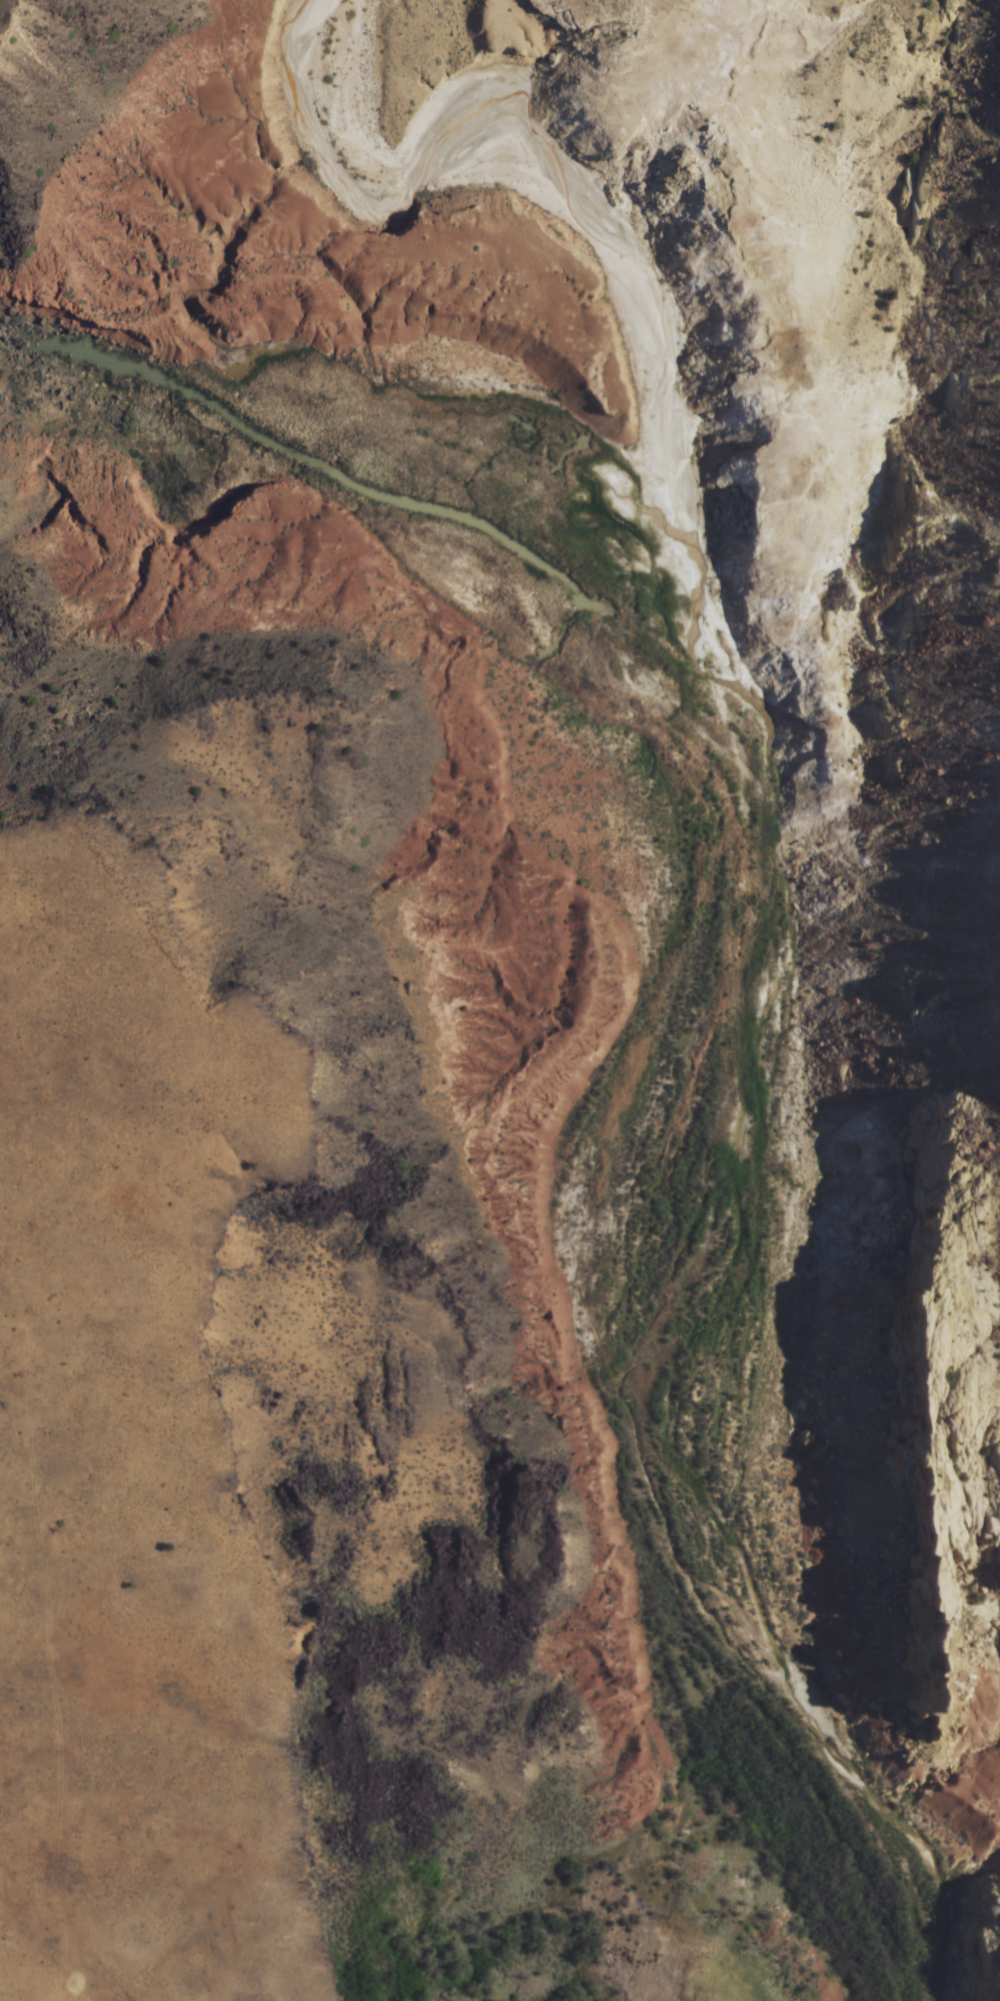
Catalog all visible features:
river: (739, 987)

